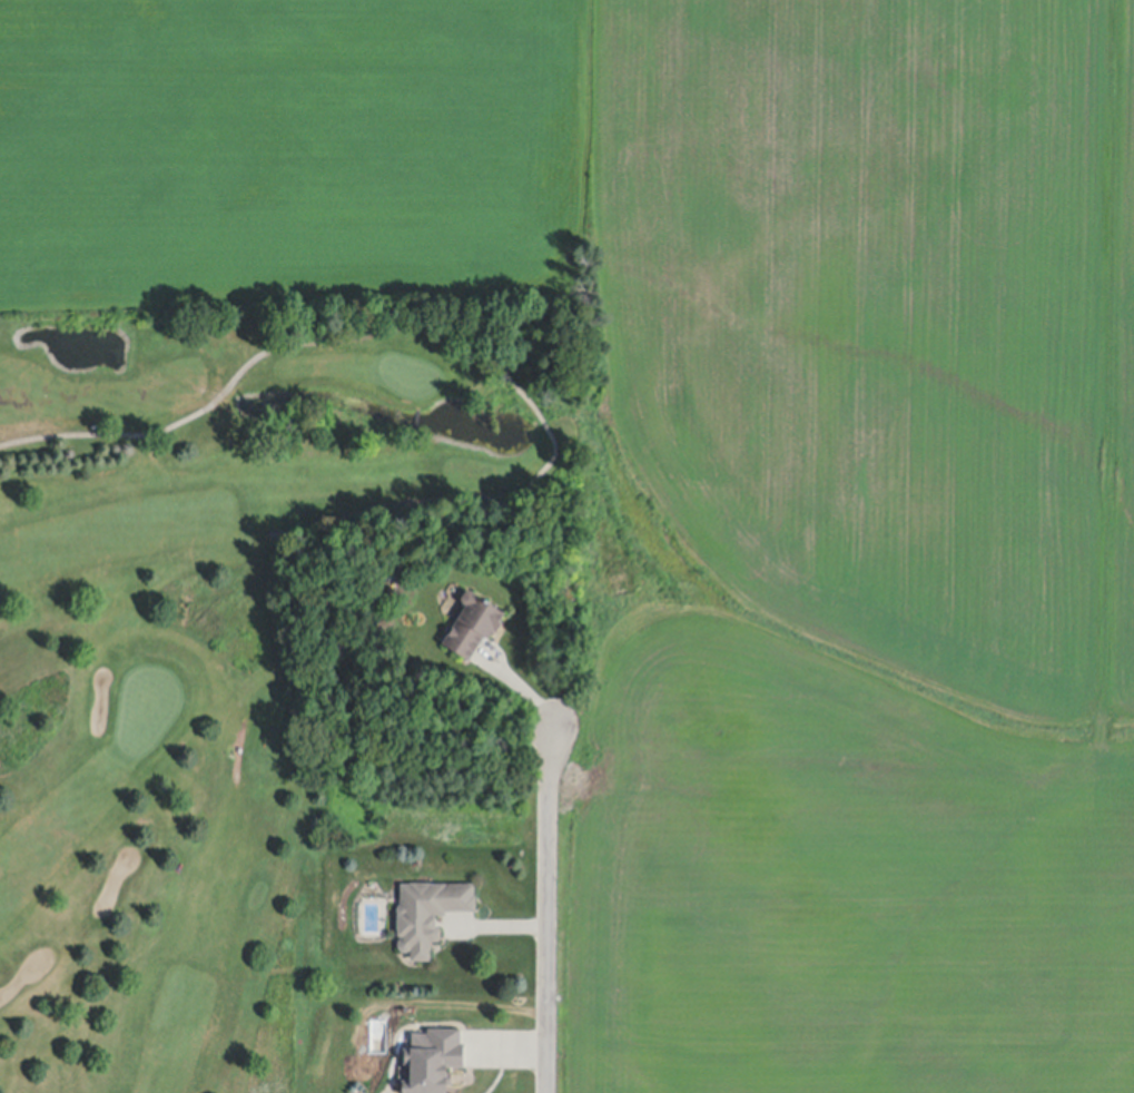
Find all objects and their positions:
building: (472, 630)
park: (215, 637)
road: (550, 913)
building: (428, 918)
building: (433, 1063)

